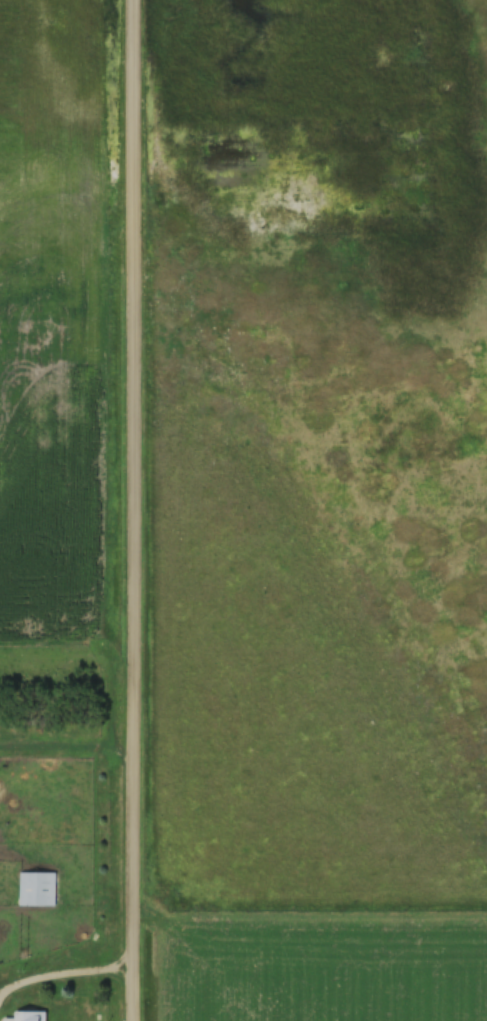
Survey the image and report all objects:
road: (123, 510)
building: (35, 890)
building: (28, 1017)

